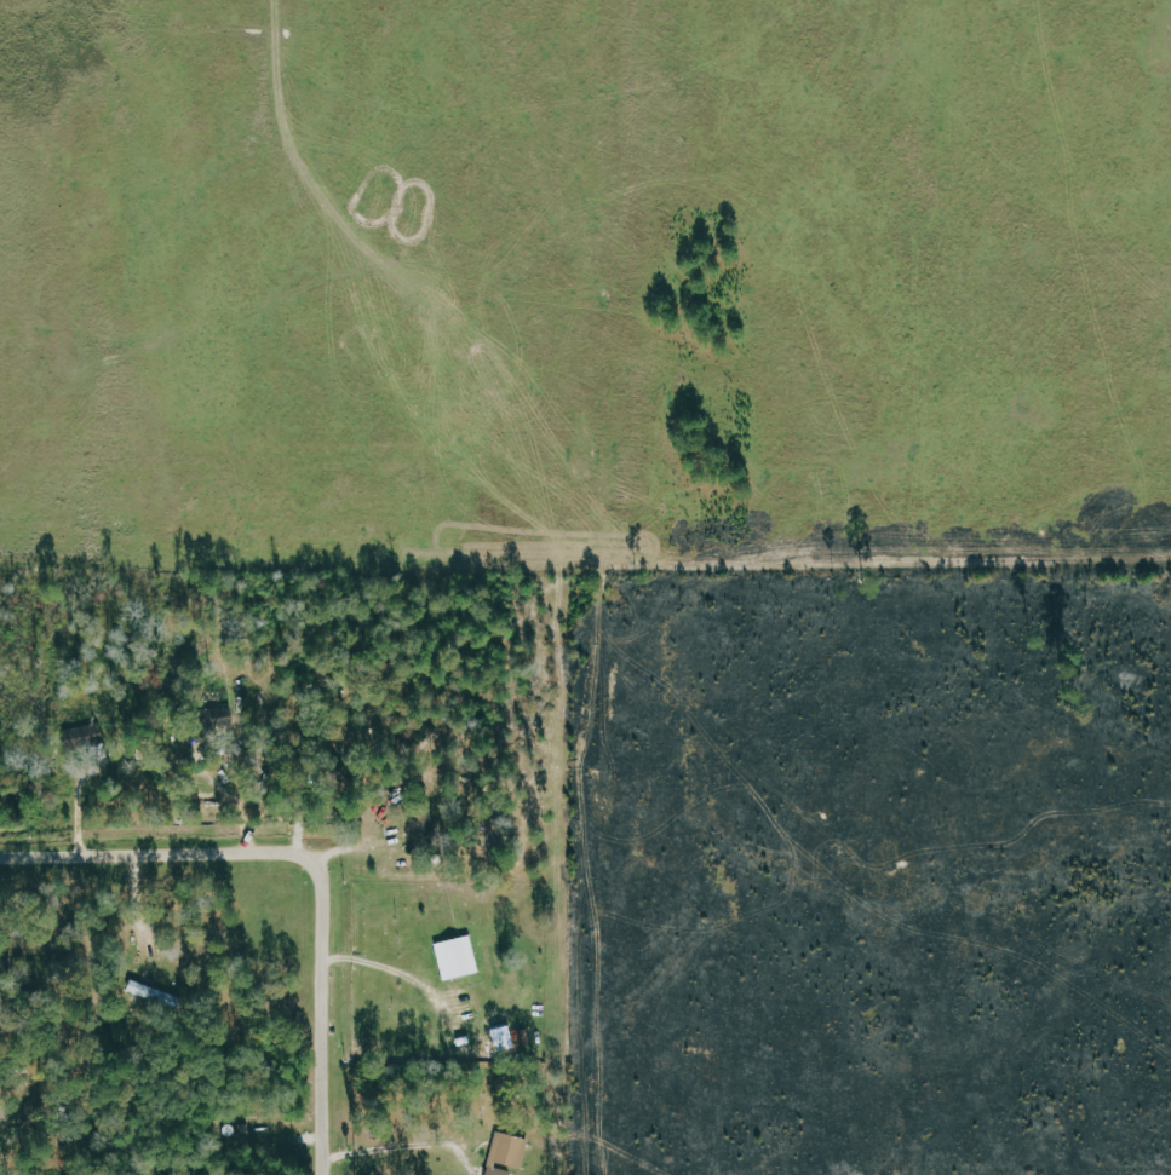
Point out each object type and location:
building: (226, 718)
building: (425, 833)
road: (311, 863)
road: (140, 912)
building: (460, 958)
road: (392, 969)
building: (507, 1038)
road: (406, 1147)
building: (510, 1154)

